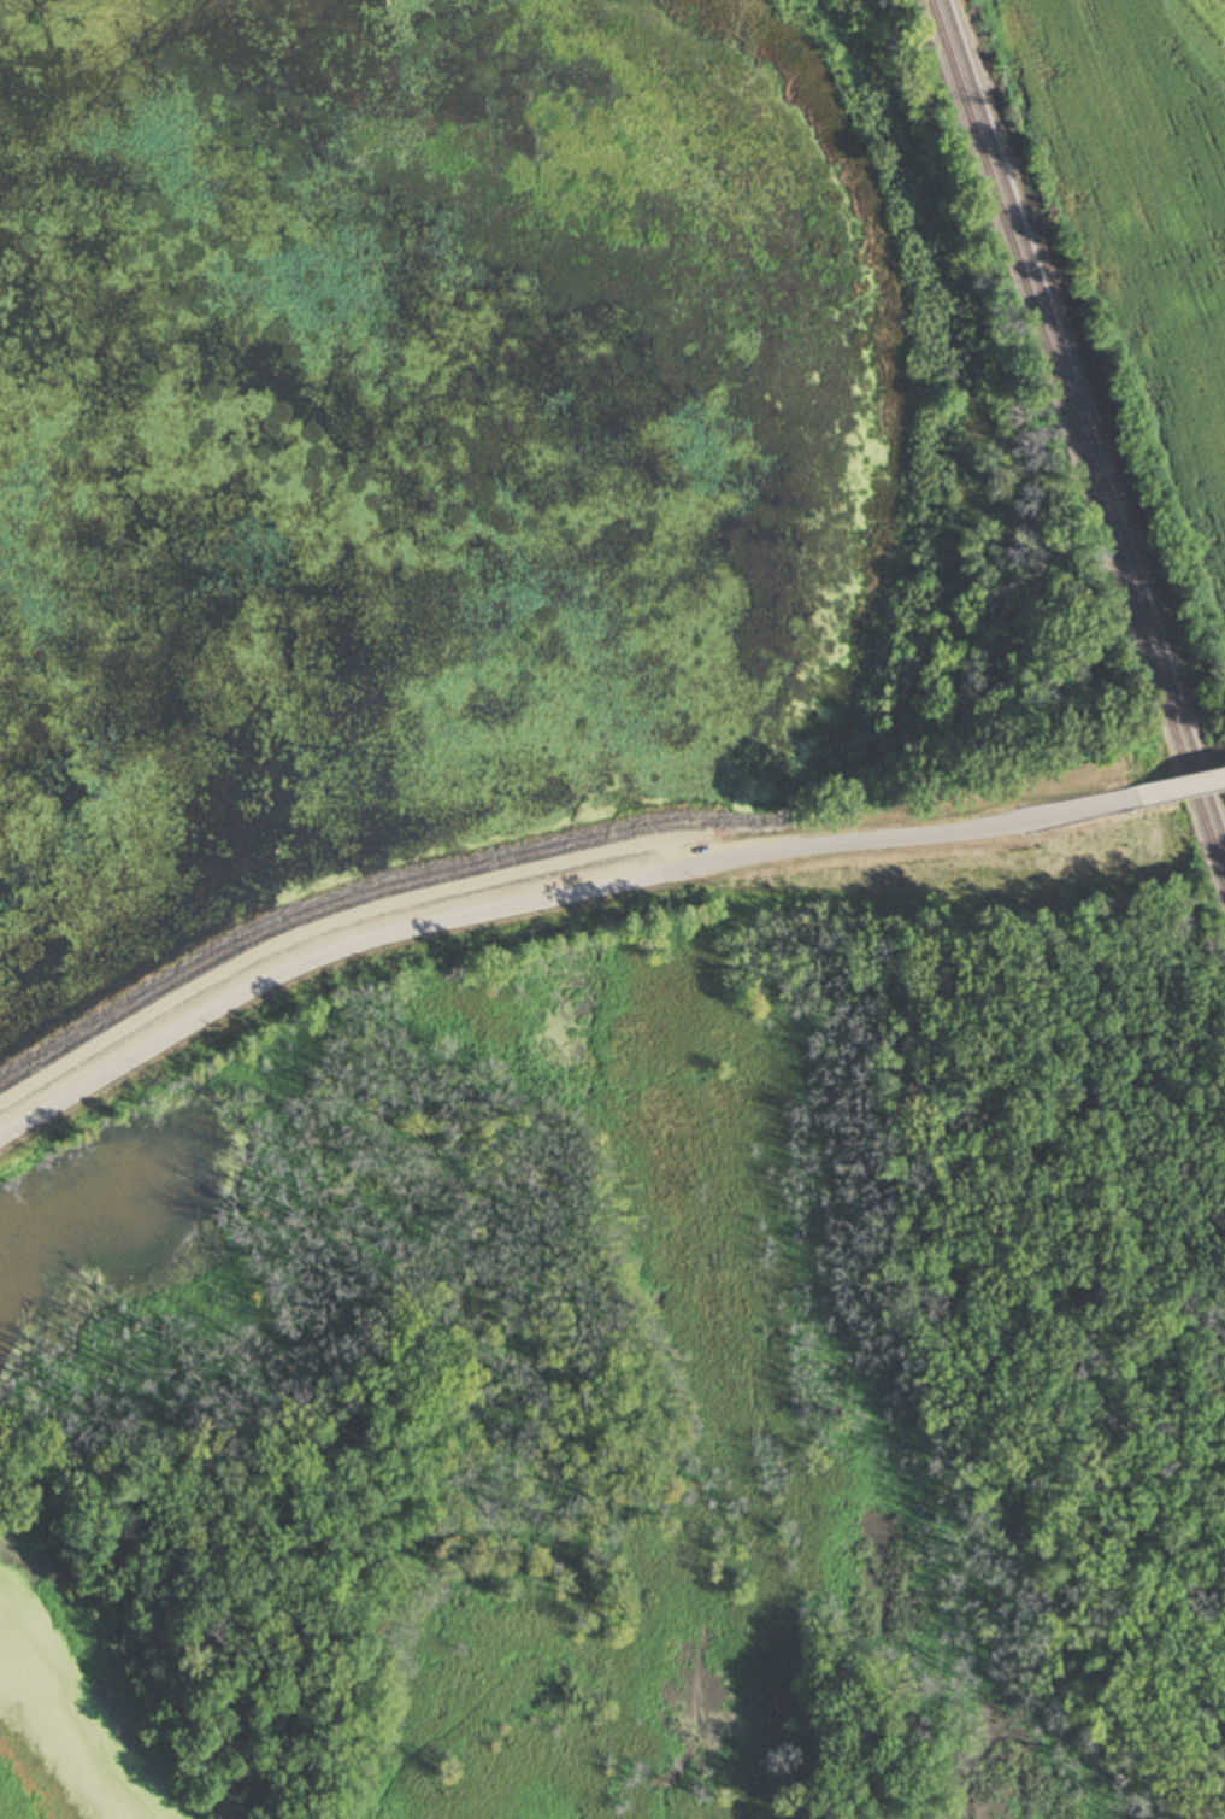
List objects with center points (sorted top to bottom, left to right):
crop: (1142, 230)
railway: (1083, 418)
railway: (1076, 440)
road: (1183, 790)
road: (549, 904)
road: (336, 931)
park: (260, 1022)

